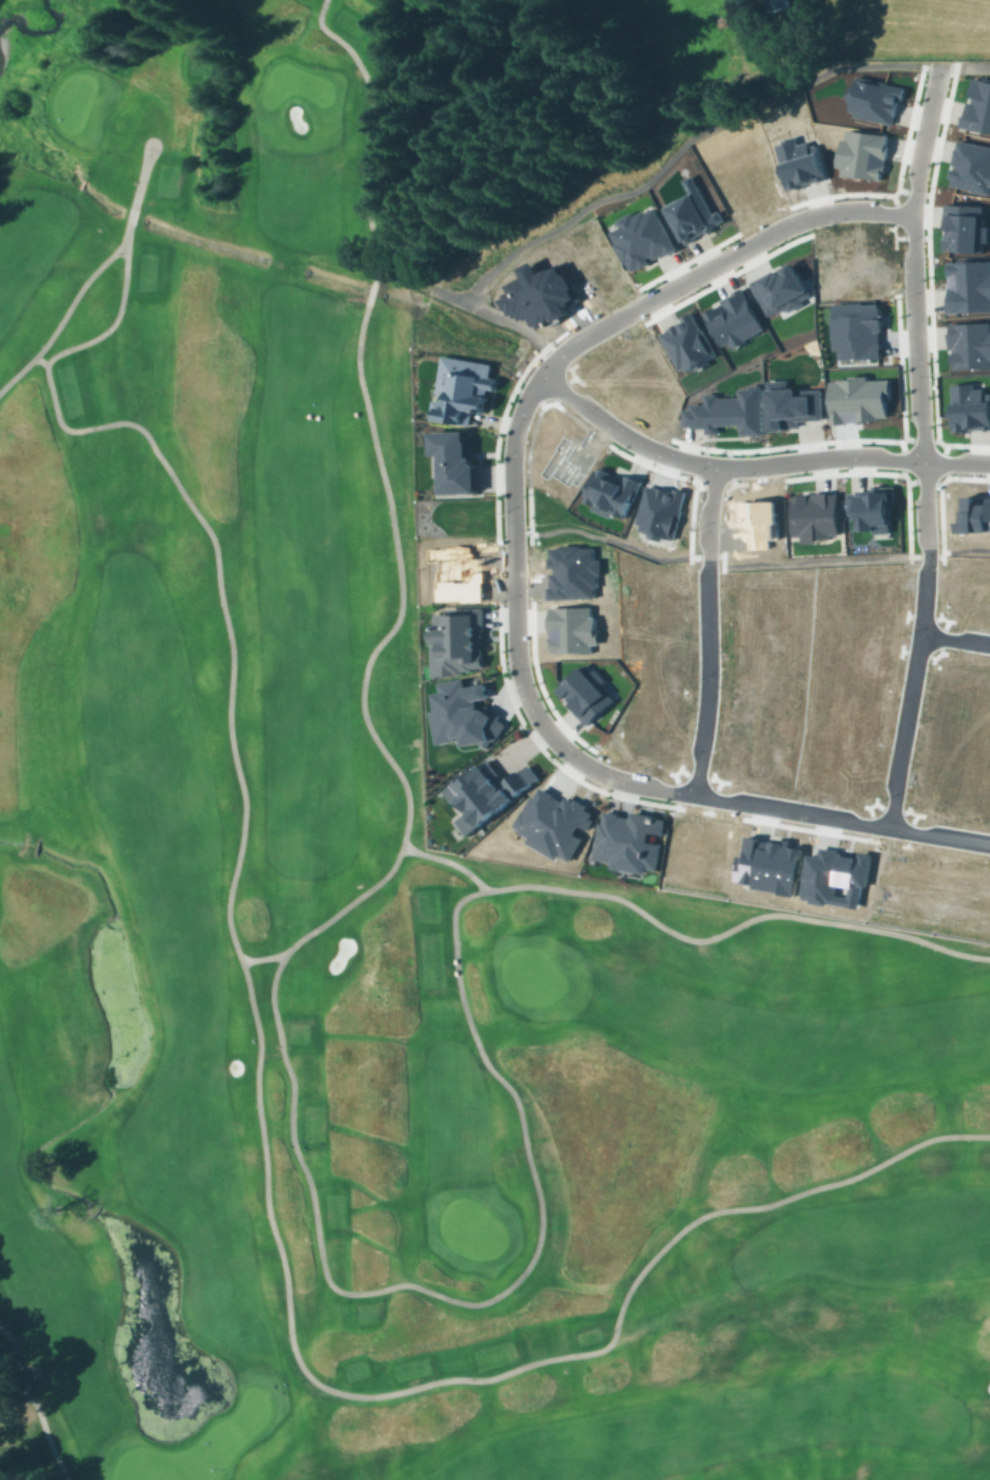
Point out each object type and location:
building: (780, 5)
road: (964, 65)
building: (875, 100)
building: (978, 108)
road: (377, 131)
road: (682, 143)
building: (863, 155)
building: (799, 162)
building: (971, 167)
road: (914, 191)
road: (898, 210)
road: (770, 214)
building: (694, 215)
building: (965, 228)
road: (911, 237)
building: (642, 240)
road: (724, 257)
building: (849, 265)
road: (928, 276)
road: (89, 277)
building: (969, 286)
building: (782, 289)
road: (369, 293)
building: (539, 294)
road: (490, 313)
building: (736, 321)
building: (858, 331)
building: (688, 343)
building: (970, 346)
road: (557, 358)
road: (40, 360)
building: (459, 388)
road: (562, 389)
road: (528, 395)
building: (860, 399)
building: (790, 405)
building: (969, 407)
building: (725, 410)
road: (517, 427)
road: (646, 427)
road: (921, 438)
road: (922, 442)
road: (904, 457)
road: (946, 460)
building: (449, 461)
building: (564, 462)
road: (701, 464)
road: (753, 464)
road: (731, 467)
road: (923, 481)
road: (711, 487)
building: (610, 491)
road: (708, 503)
building: (873, 508)
building: (659, 509)
building: (813, 516)
building: (974, 516)
building: (756, 521)
road: (602, 536)
road: (941, 549)
road: (966, 549)
road: (705, 555)
road: (925, 555)
road: (814, 561)
building: (572, 571)
building: (451, 572)
building: (973, 584)
building: (649, 589)
building: (865, 594)
building: (757, 596)
road: (922, 616)
building: (570, 626)
road: (938, 635)
road: (954, 639)
building: (453, 640)
building: (649, 642)
building: (762, 649)
road: (917, 652)
building: (854, 656)
road: (931, 659)
road: (707, 669)
building: (586, 693)
building: (962, 695)
road: (891, 698)
building: (459, 714)
building: (753, 751)
road: (557, 763)
road: (666, 771)
road: (697, 772)
road: (648, 787)
road: (678, 790)
building: (483, 792)
road: (716, 796)
road: (892, 804)
road: (871, 822)
building: (554, 823)
road: (988, 825)
road: (912, 829)
building: (627, 840)
building: (698, 851)
road: (446, 860)
building: (769, 865)
building: (835, 874)
park: (379, 899)
road: (262, 958)
road: (260, 1126)
road: (373, 1289)
road: (38, 1400)

